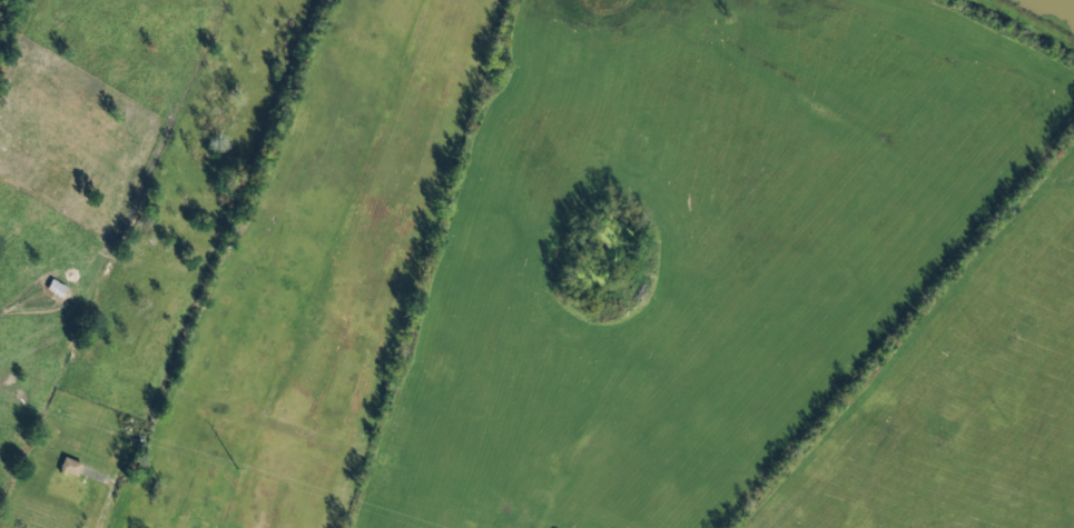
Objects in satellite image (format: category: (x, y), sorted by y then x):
building: (69, 467)

